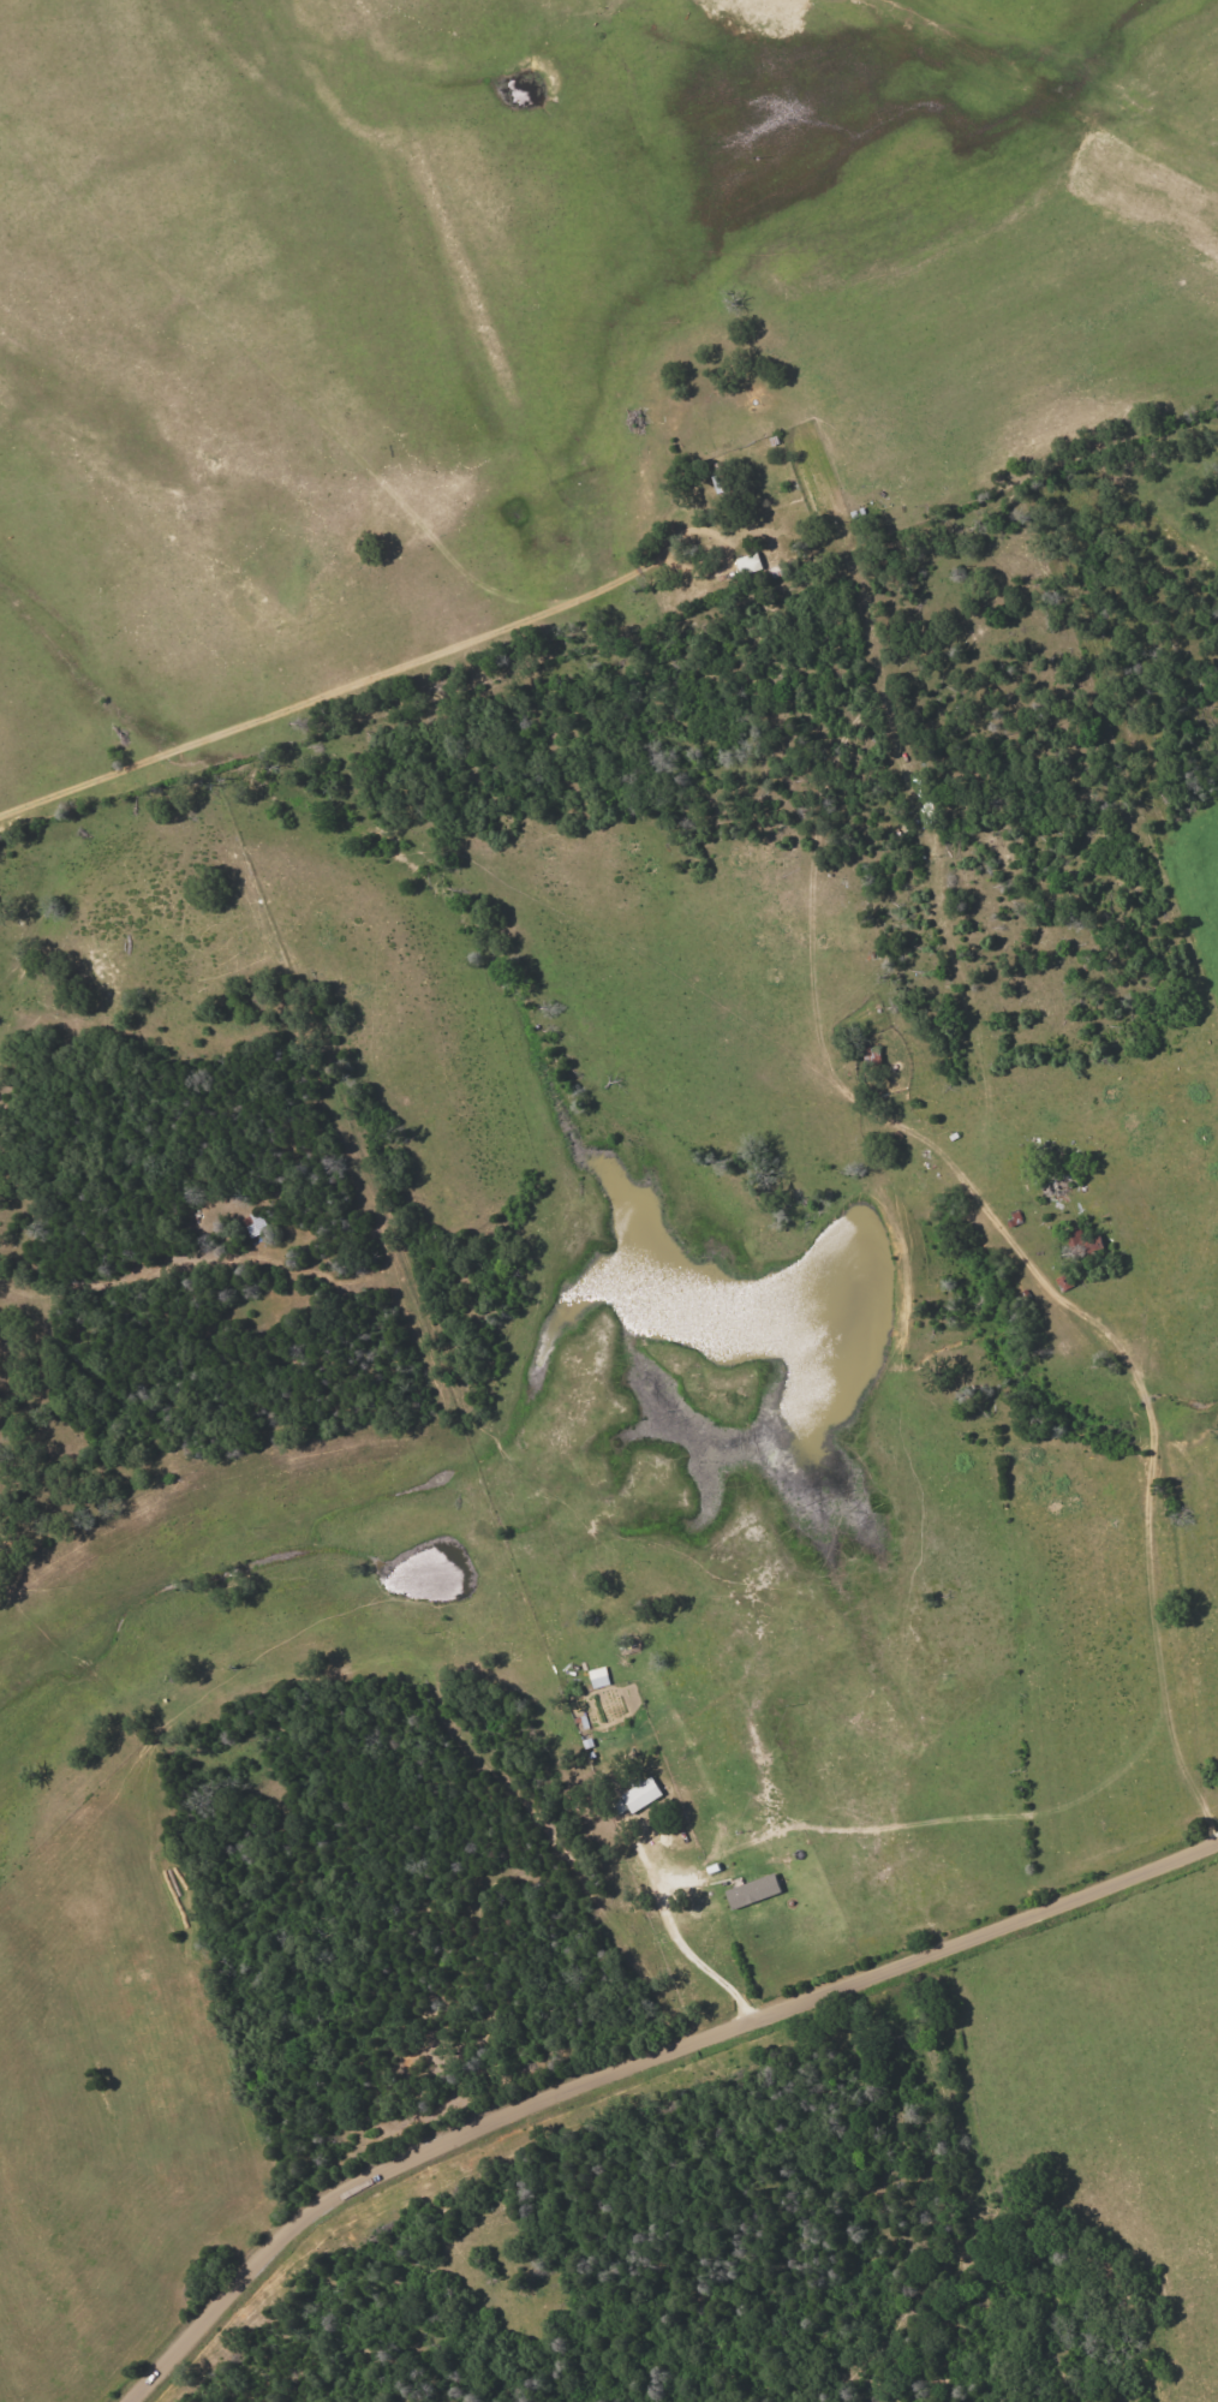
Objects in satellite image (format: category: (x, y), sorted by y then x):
road: (727, 548)
road: (91, 622)
road: (330, 692)
building: (597, 1677)
building: (640, 1795)
building: (751, 1891)
road: (670, 1937)
road: (637, 2063)

